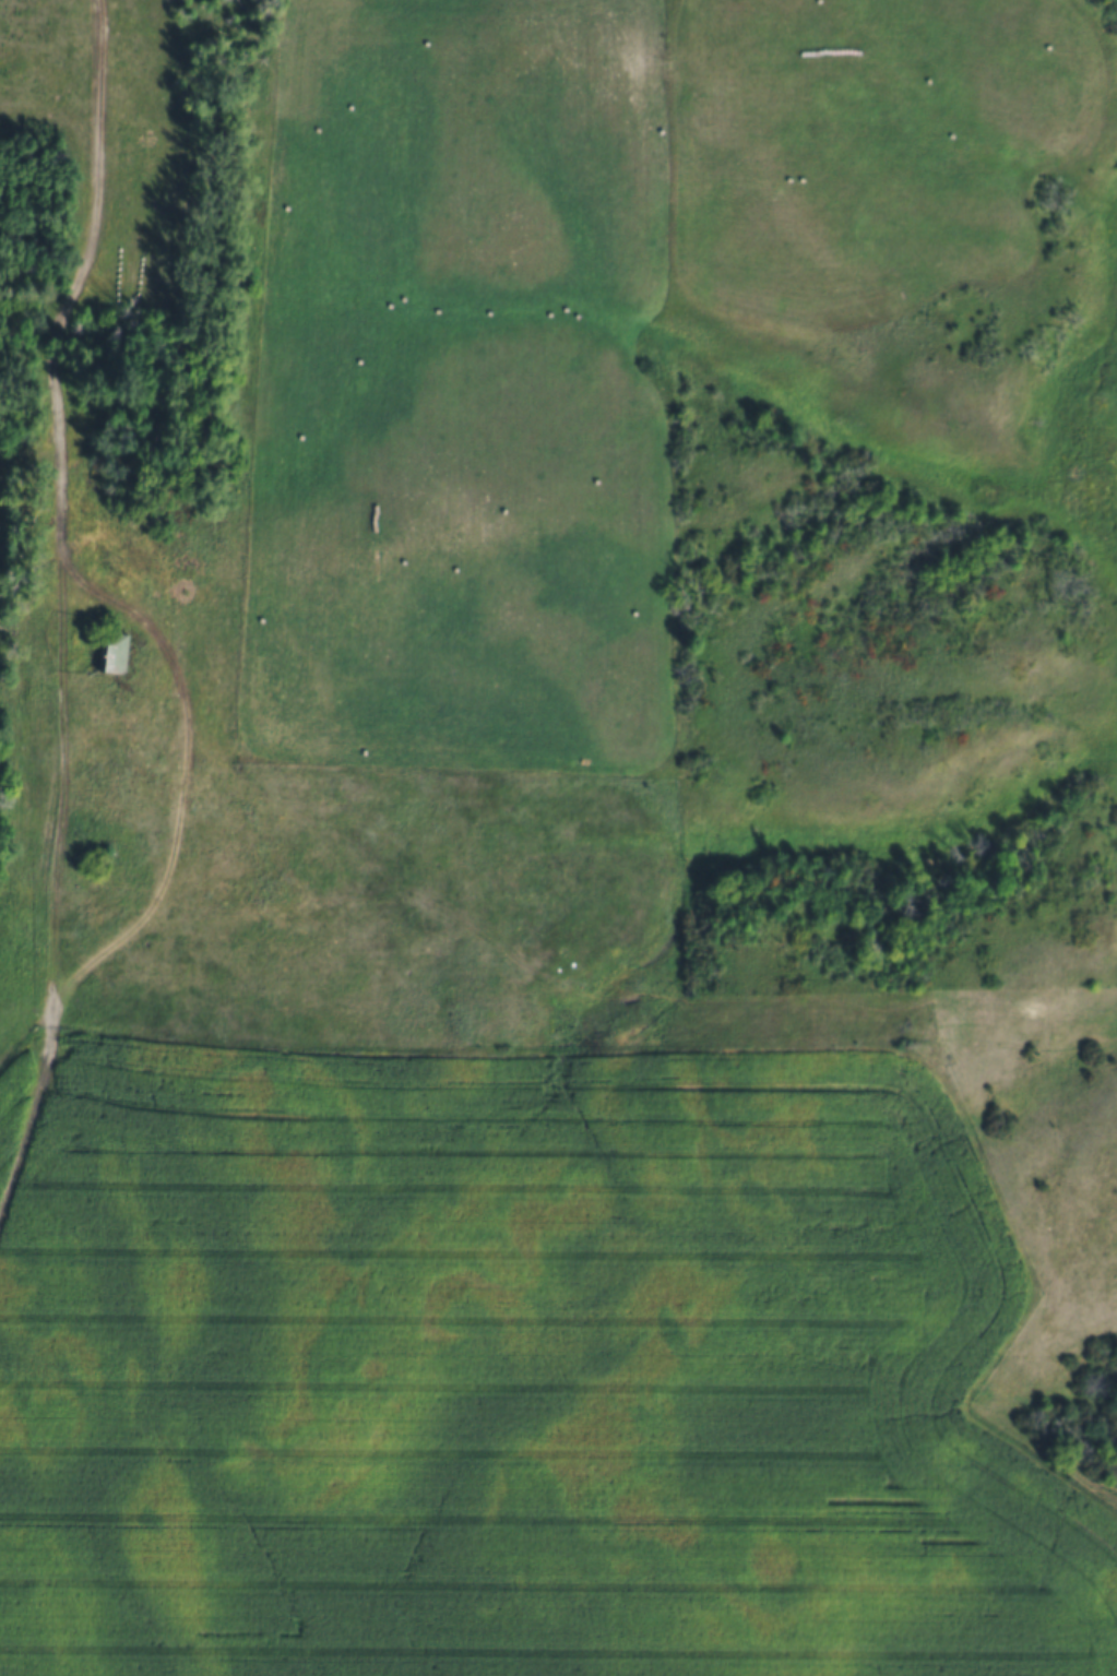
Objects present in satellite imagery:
road: (64, 566)
building: (110, 652)

